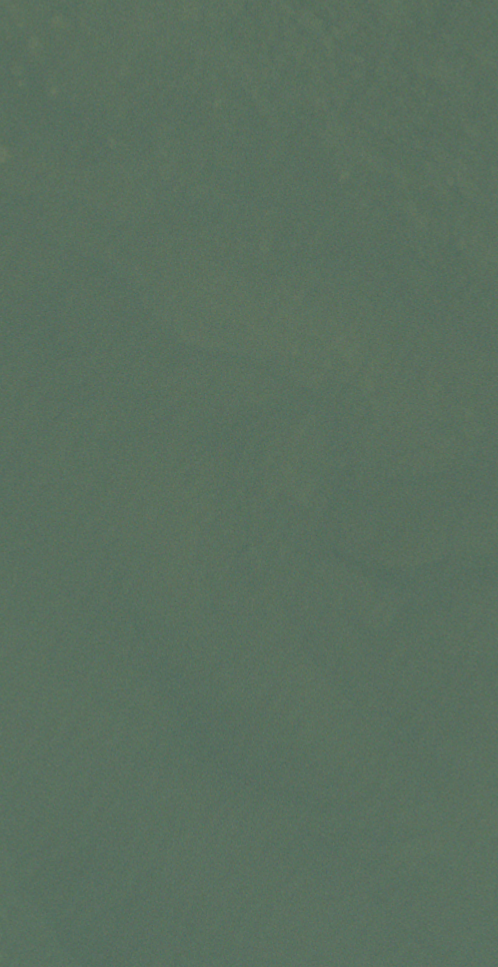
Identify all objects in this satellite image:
river: (249, 389)

